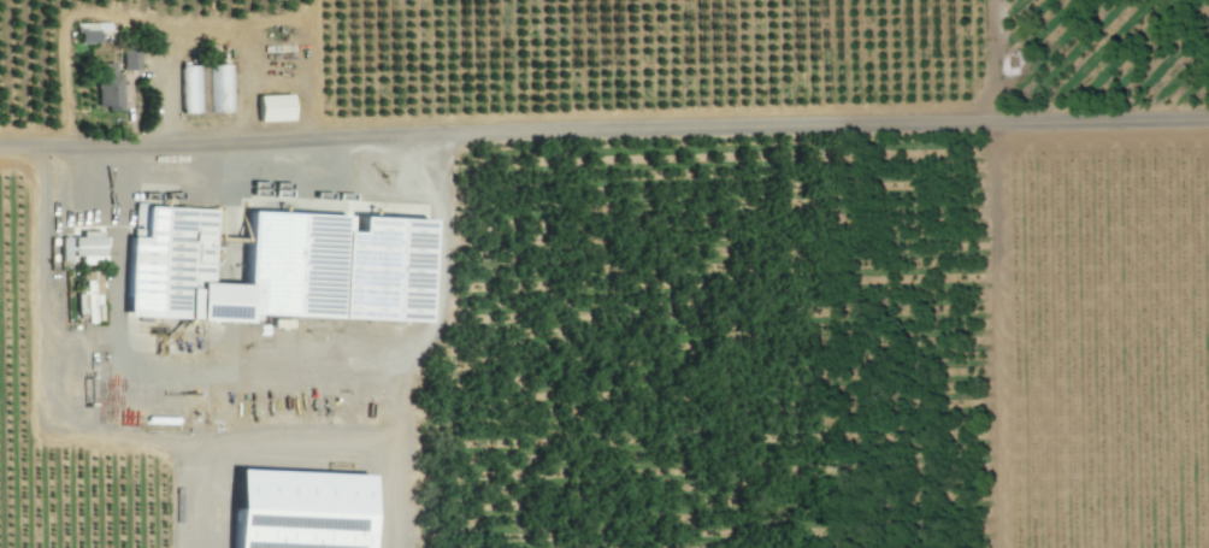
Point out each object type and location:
building: (88, 31)
building: (131, 59)
building: (110, 86)
building: (220, 87)
building: (190, 88)
building: (276, 107)
road: (603, 131)
road: (102, 178)
building: (90, 246)
building: (65, 248)
building: (283, 267)
road: (114, 275)
building: (92, 296)
road: (54, 417)

